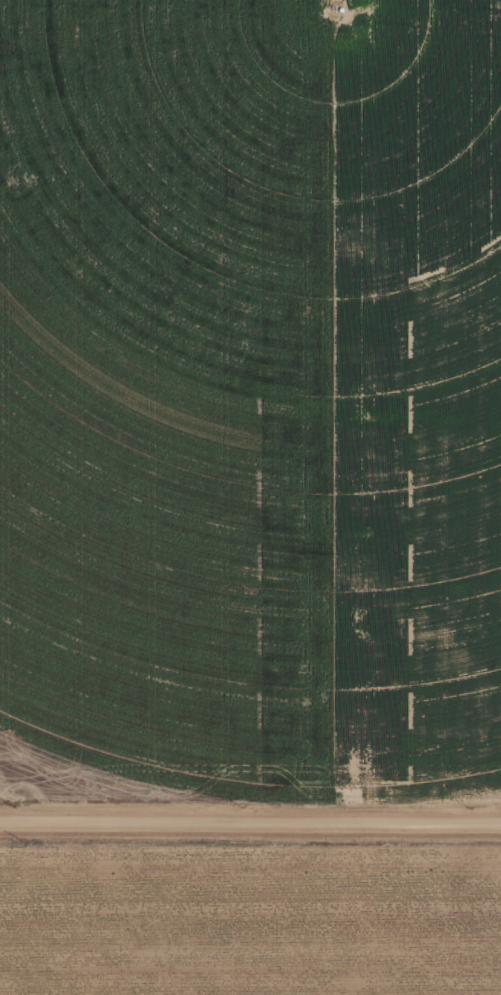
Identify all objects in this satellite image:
road: (250, 793)

